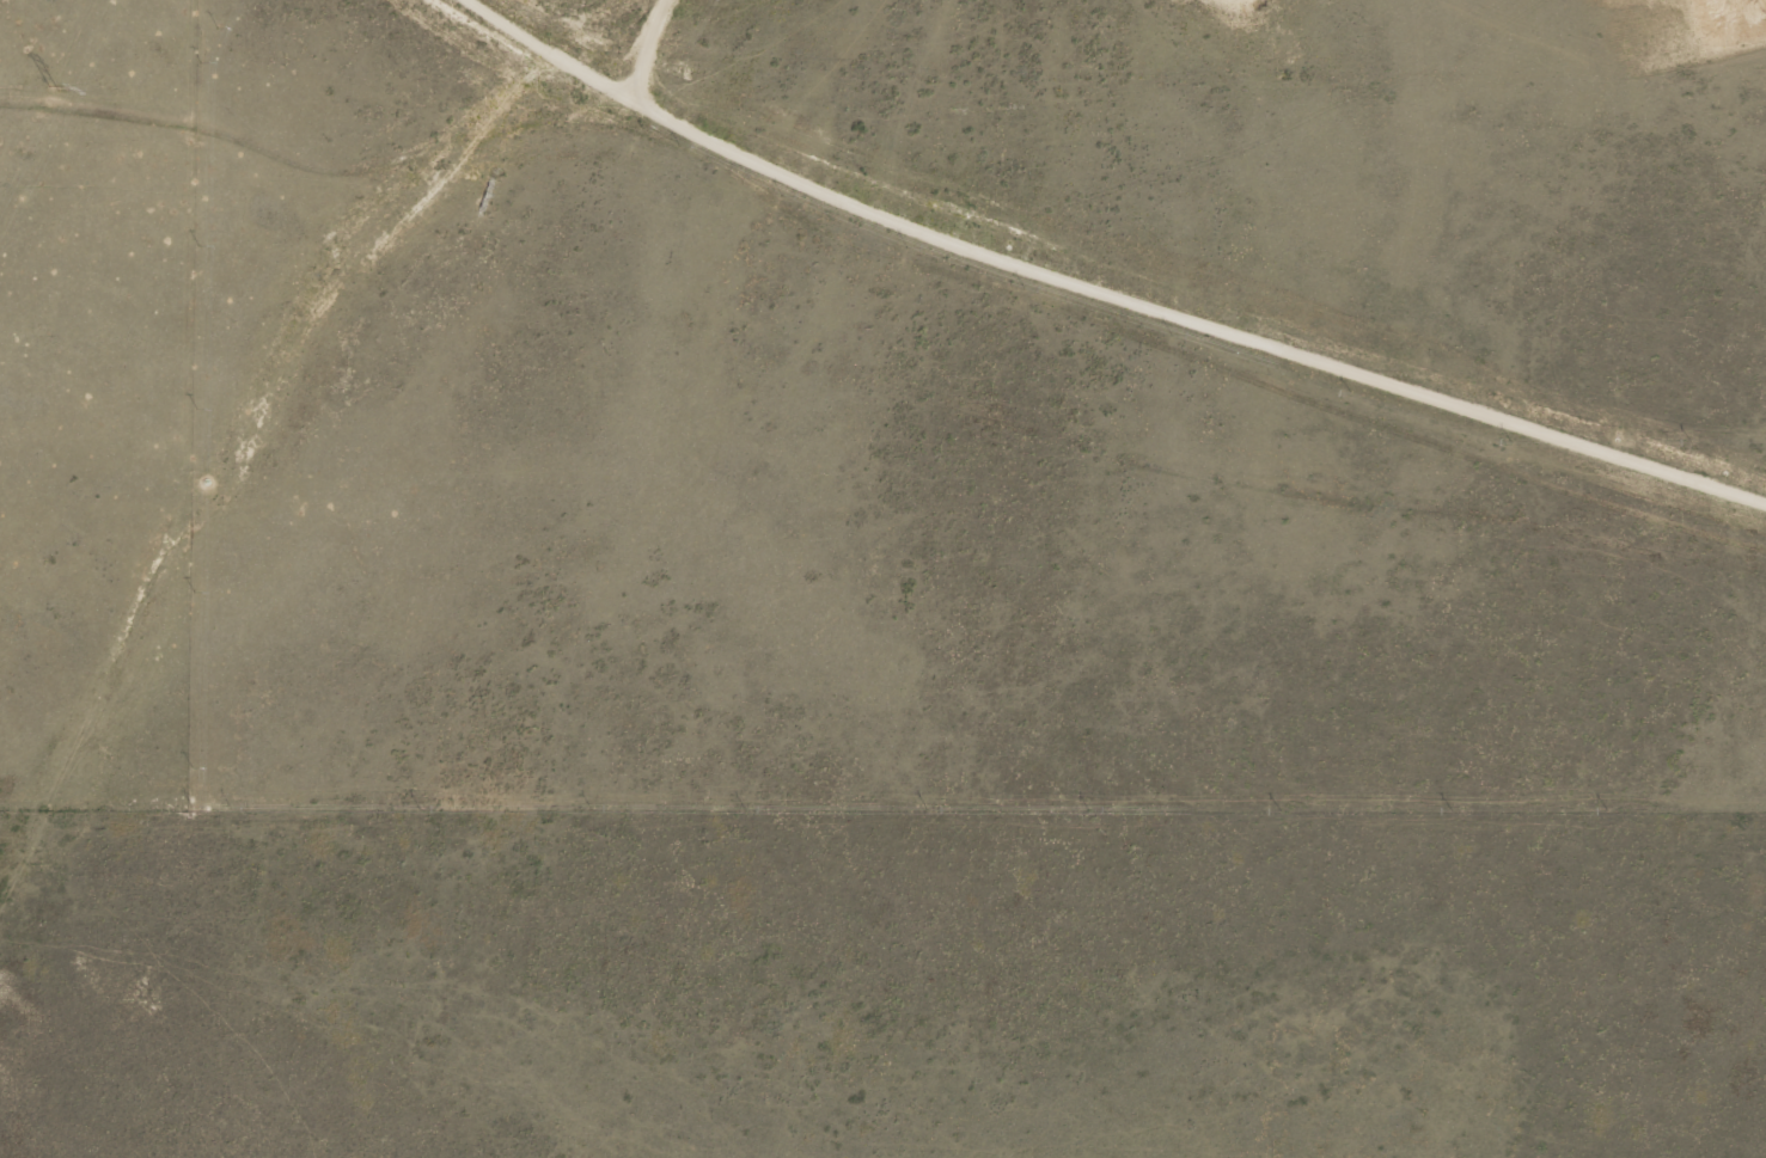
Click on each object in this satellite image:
road: (483, 47)
power tower: (56, 82)
road: (892, 210)

